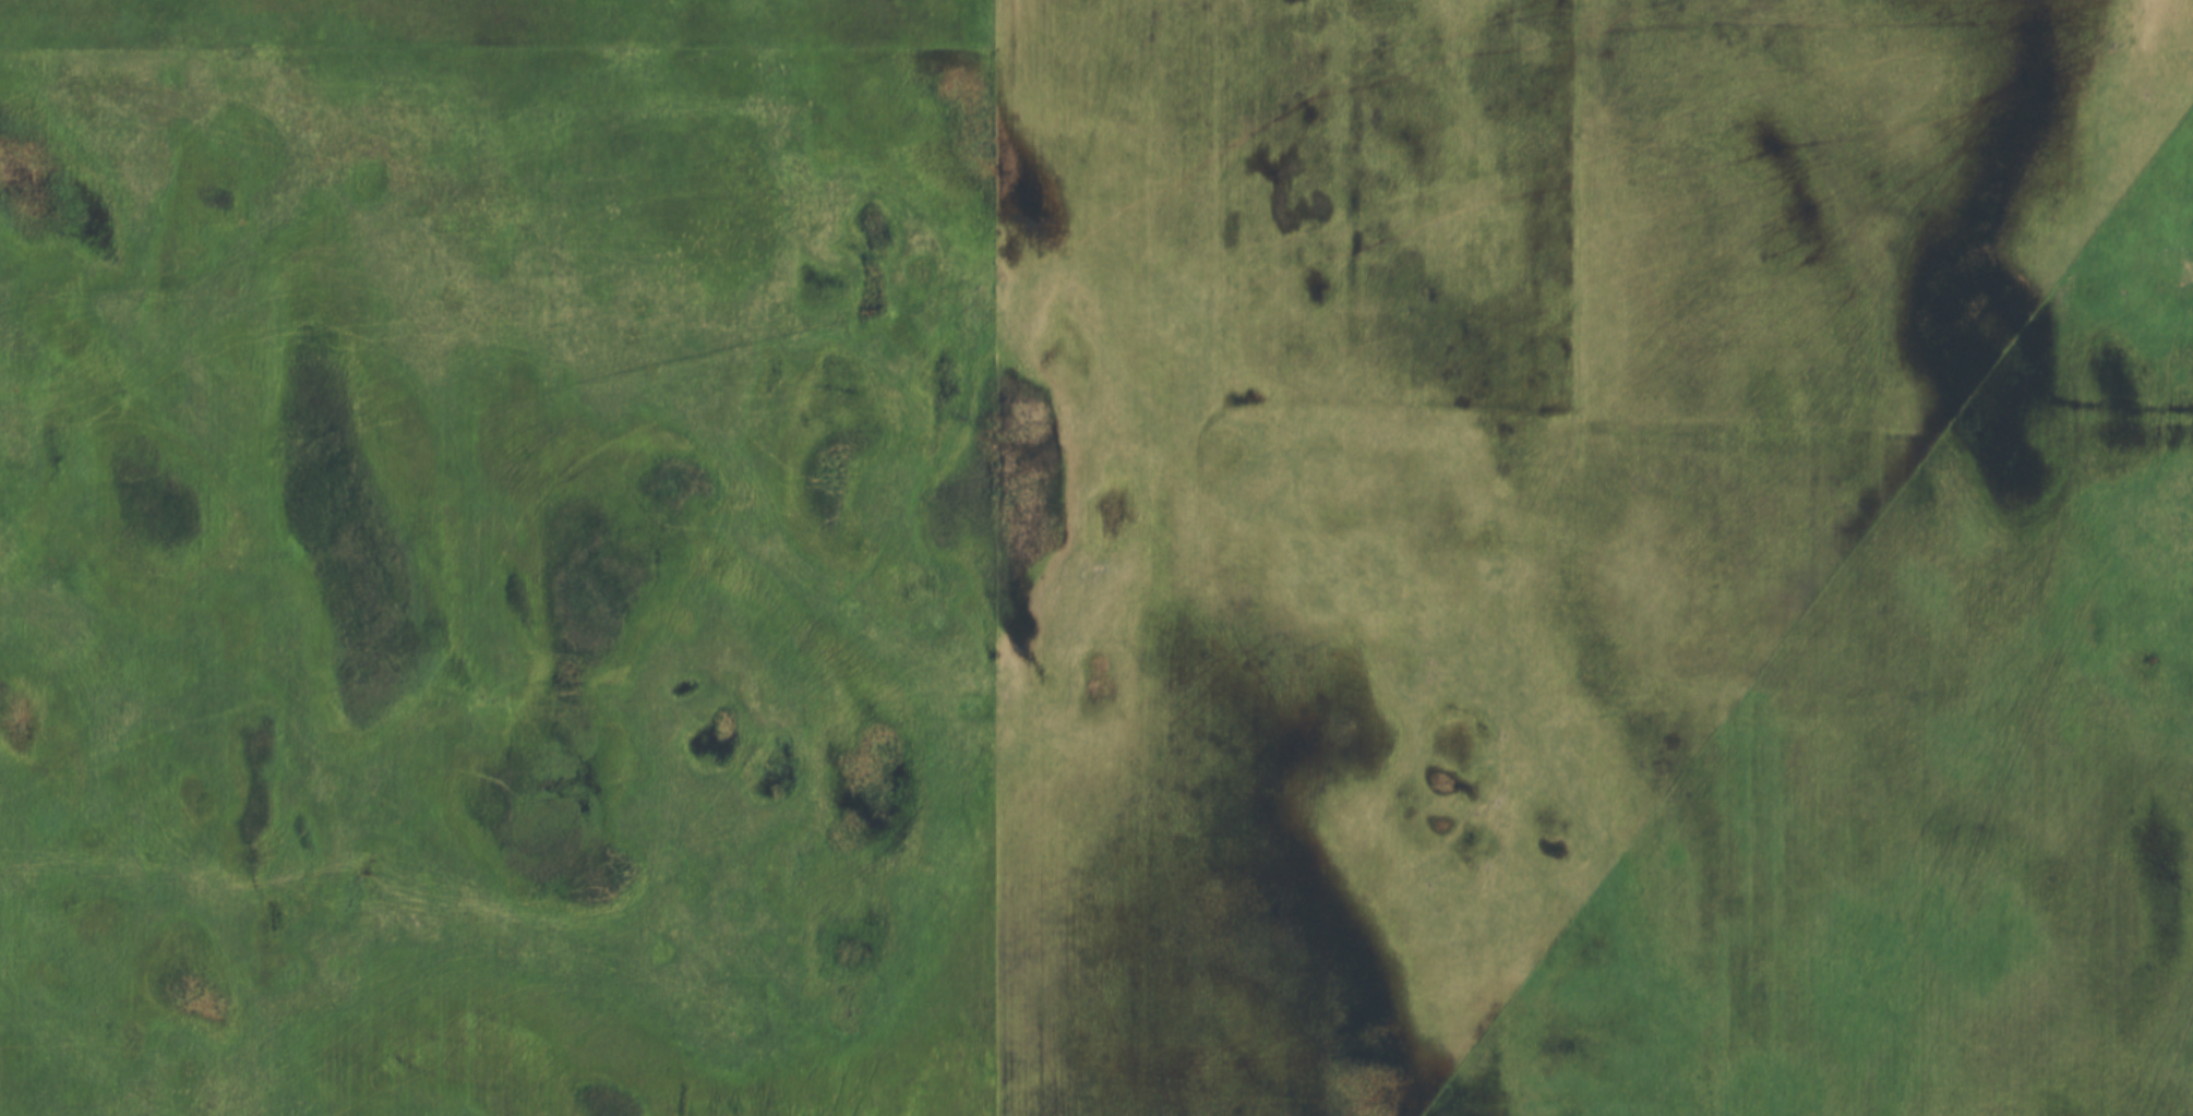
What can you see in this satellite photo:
road: (2181, 12)

